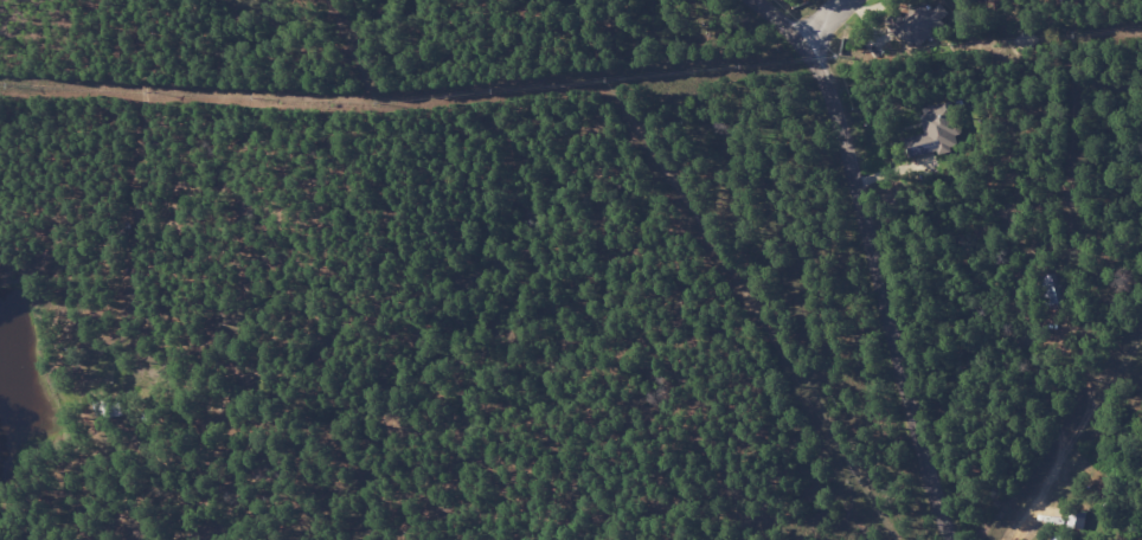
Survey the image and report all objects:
road: (826, 20)
building: (922, 24)
building: (936, 129)
road: (875, 256)
building: (1058, 538)

